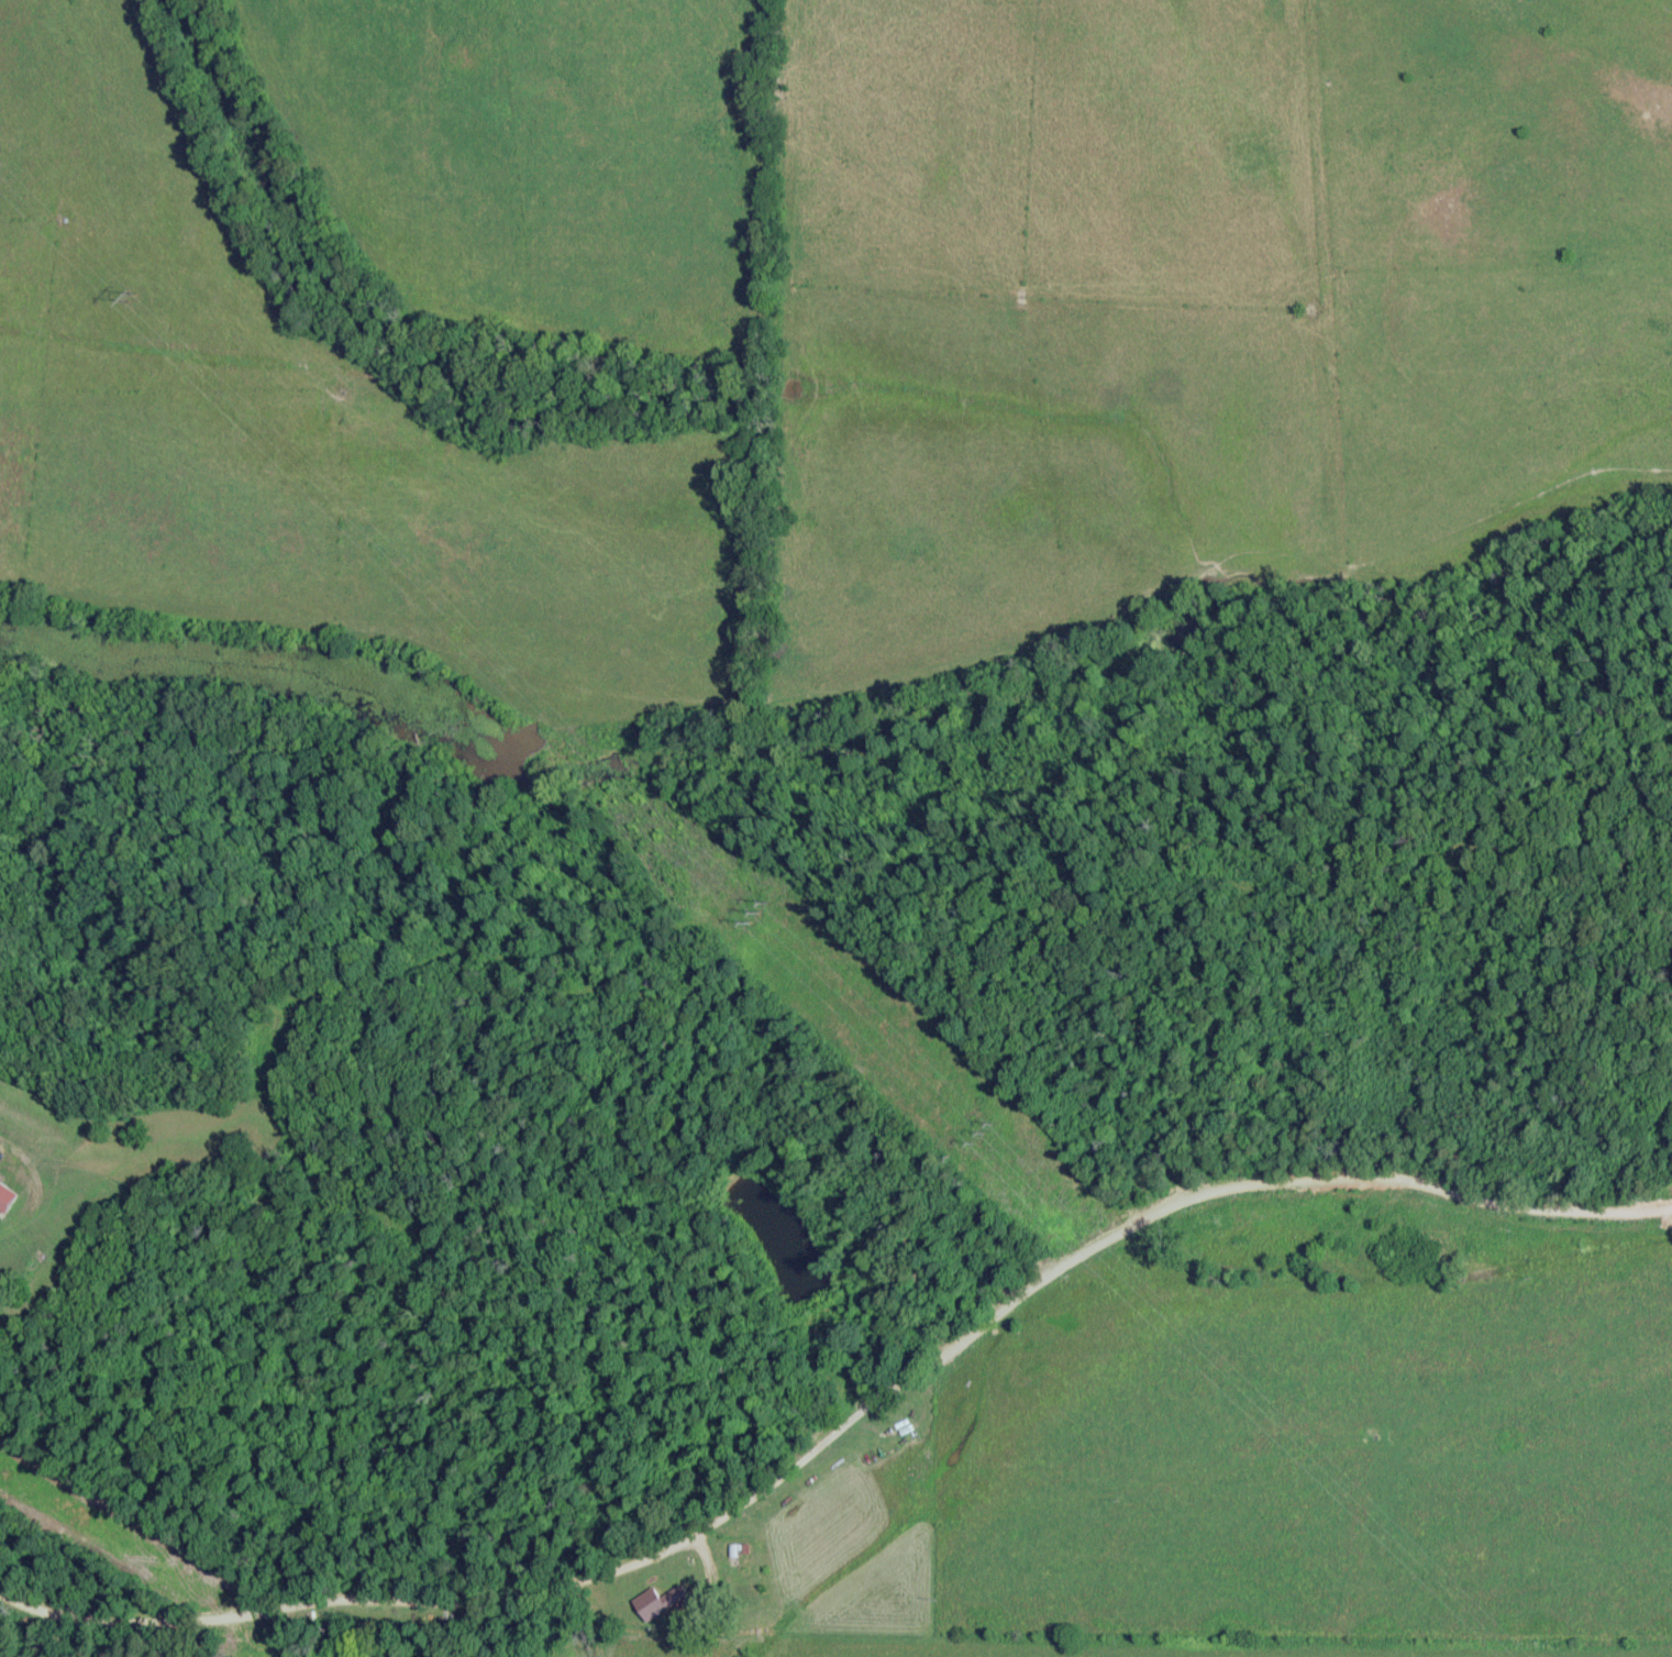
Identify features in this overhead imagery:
power tower: (132, 290)
power tower: (742, 912)
power tower: (975, 1126)
road: (1371, 1175)
building: (4, 1196)
road: (587, 1576)
building: (654, 1603)

